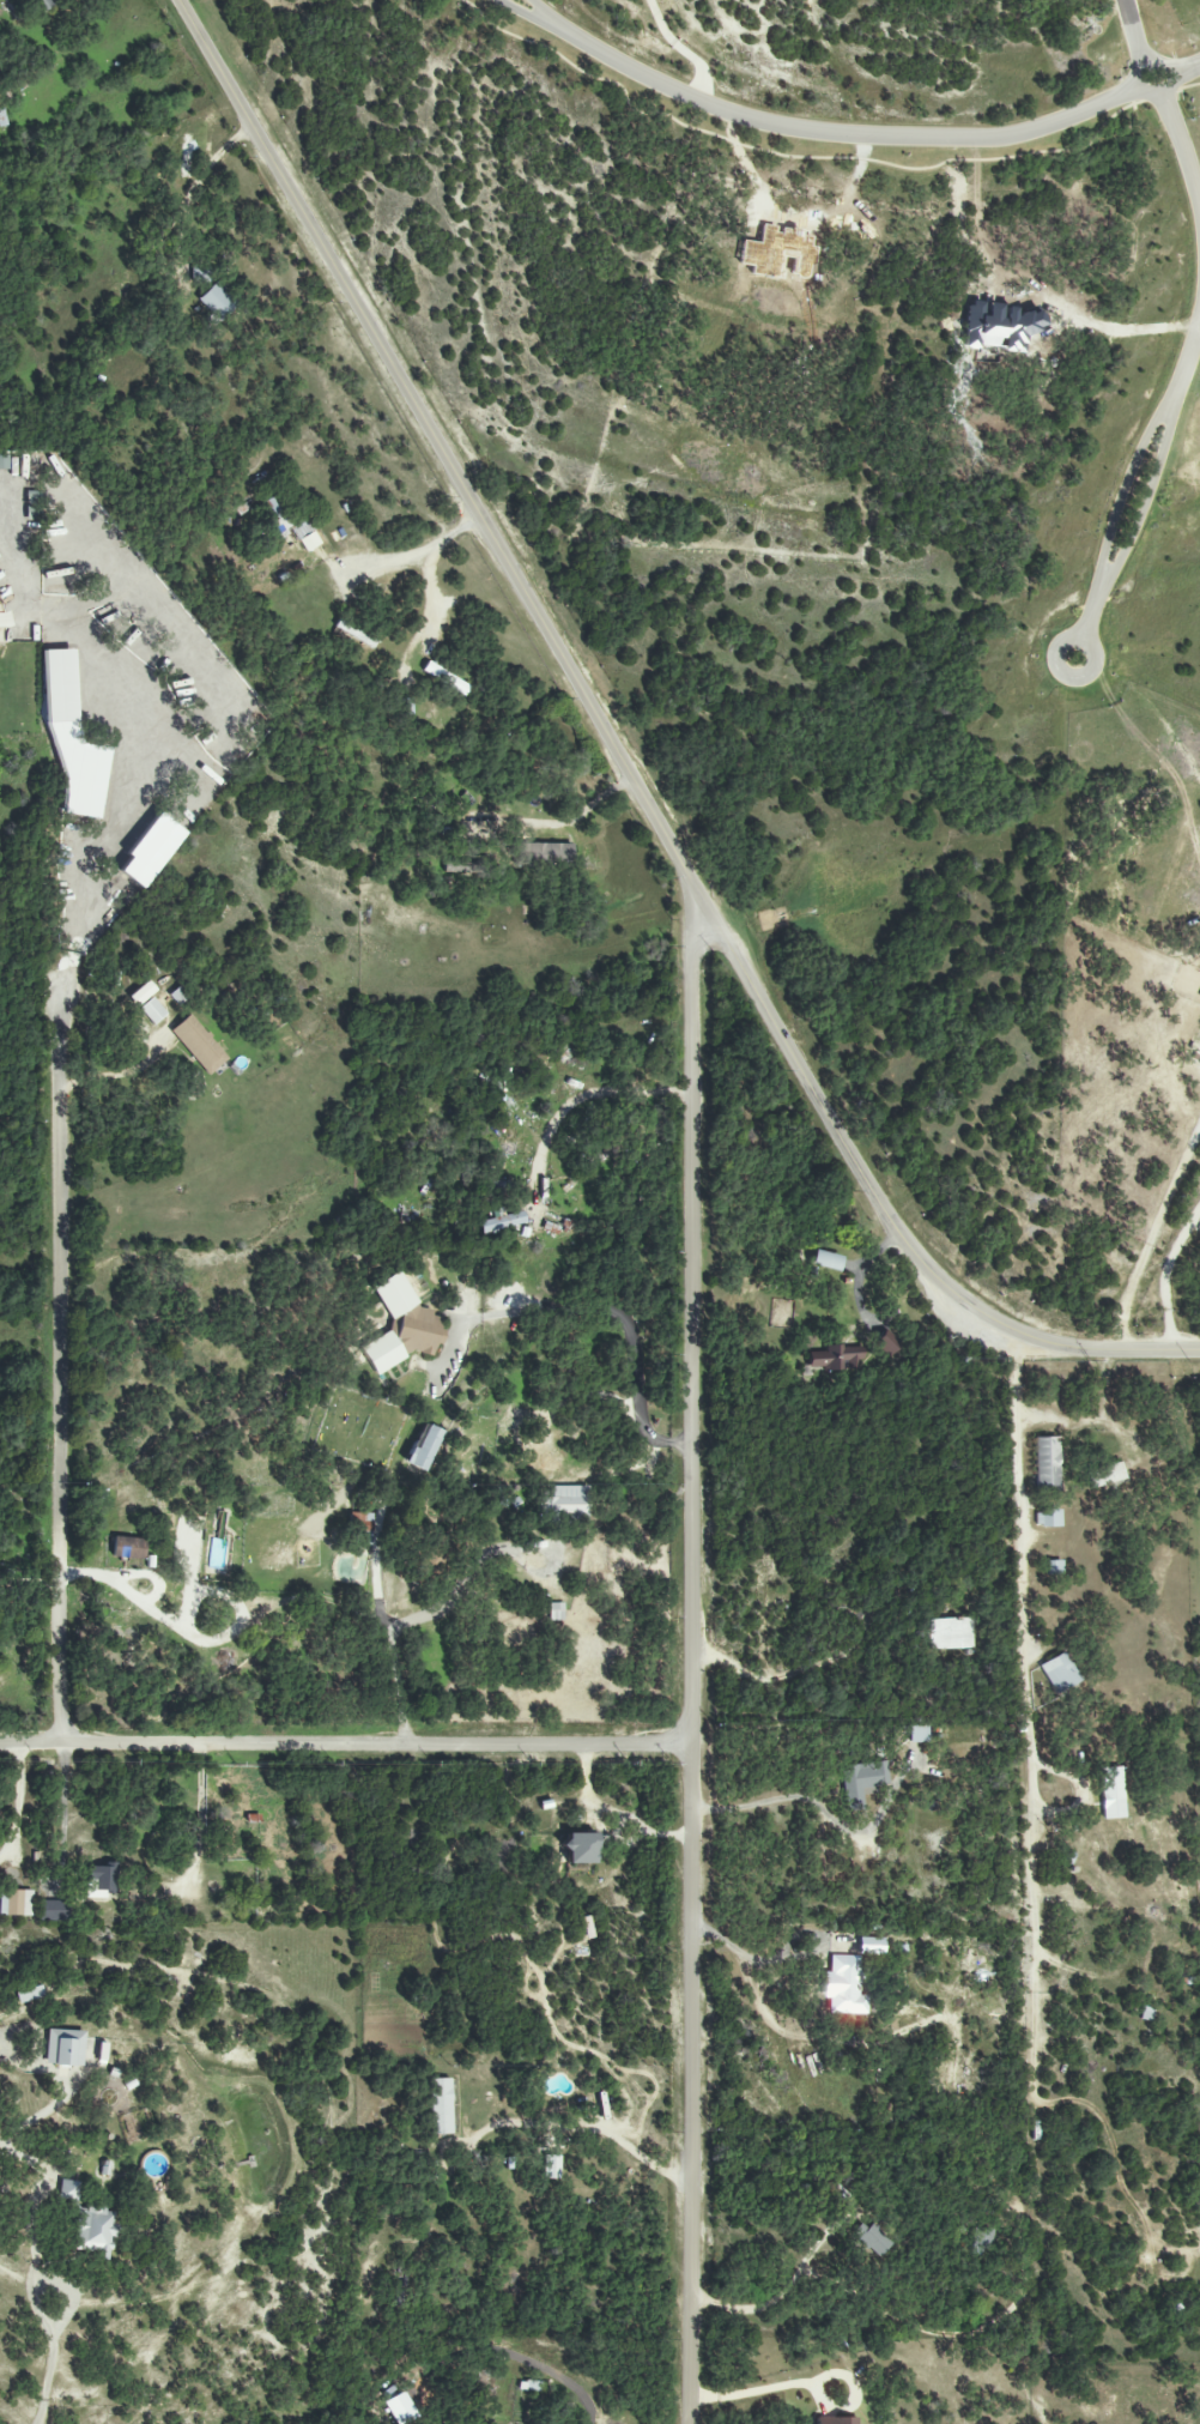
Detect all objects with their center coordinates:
building: (42, 5)
road: (532, 18)
road: (550, 18)
road: (1137, 34)
road: (690, 47)
road: (1189, 68)
road: (1137, 81)
road: (846, 137)
road: (1183, 149)
building: (187, 157)
road: (202, 180)
building: (216, 302)
road: (1126, 326)
road: (1198, 340)
road: (1186, 369)
building: (4, 463)
road: (1123, 497)
road: (1146, 506)
building: (278, 519)
building: (310, 540)
road: (406, 552)
road: (431, 596)
road: (1093, 617)
building: (354, 634)
road: (1090, 675)
building: (446, 678)
building: (60, 685)
road: (624, 766)
building: (543, 854)
building: (141, 993)
building: (176, 997)
building: (152, 1011)
building: (199, 1044)
road: (119, 1075)
building: (502, 1222)
building: (826, 1261)
road: (838, 1267)
road: (1164, 1277)
road: (862, 1280)
road: (590, 1307)
building: (401, 1326)
building: (889, 1343)
building: (838, 1358)
road: (61, 1368)
building: (423, 1447)
building: (1046, 1462)
building: (1105, 1475)
building: (568, 1501)
building: (1048, 1518)
building: (362, 1521)
building: (128, 1547)
road: (491, 1549)
building: (1053, 1568)
building: (556, 1612)
building: (950, 1633)
road: (392, 1648)
road: (693, 1666)
building: (1059, 1673)
road: (1029, 1694)
building: (919, 1734)
road: (346, 1746)
building: (861, 1781)
building: (1110, 1793)
road: (18, 1802)
road: (812, 1803)
road: (195, 1830)
building: (580, 1848)
building: (101, 1881)
building: (16, 1903)
building: (51, 1910)
building: (586, 1927)
road: (757, 1958)
building: (847, 1985)
building: (29, 1994)
building: (63, 2048)
building: (440, 2106)
road: (571, 2127)
road: (30, 2162)
building: (551, 2168)
building: (89, 2222)
building: (874, 2238)
building: (980, 2241)
road: (776, 2298)
road: (34, 2301)
road: (927, 2331)
building: (529, 2386)
road: (751, 2390)
building: (838, 2420)

